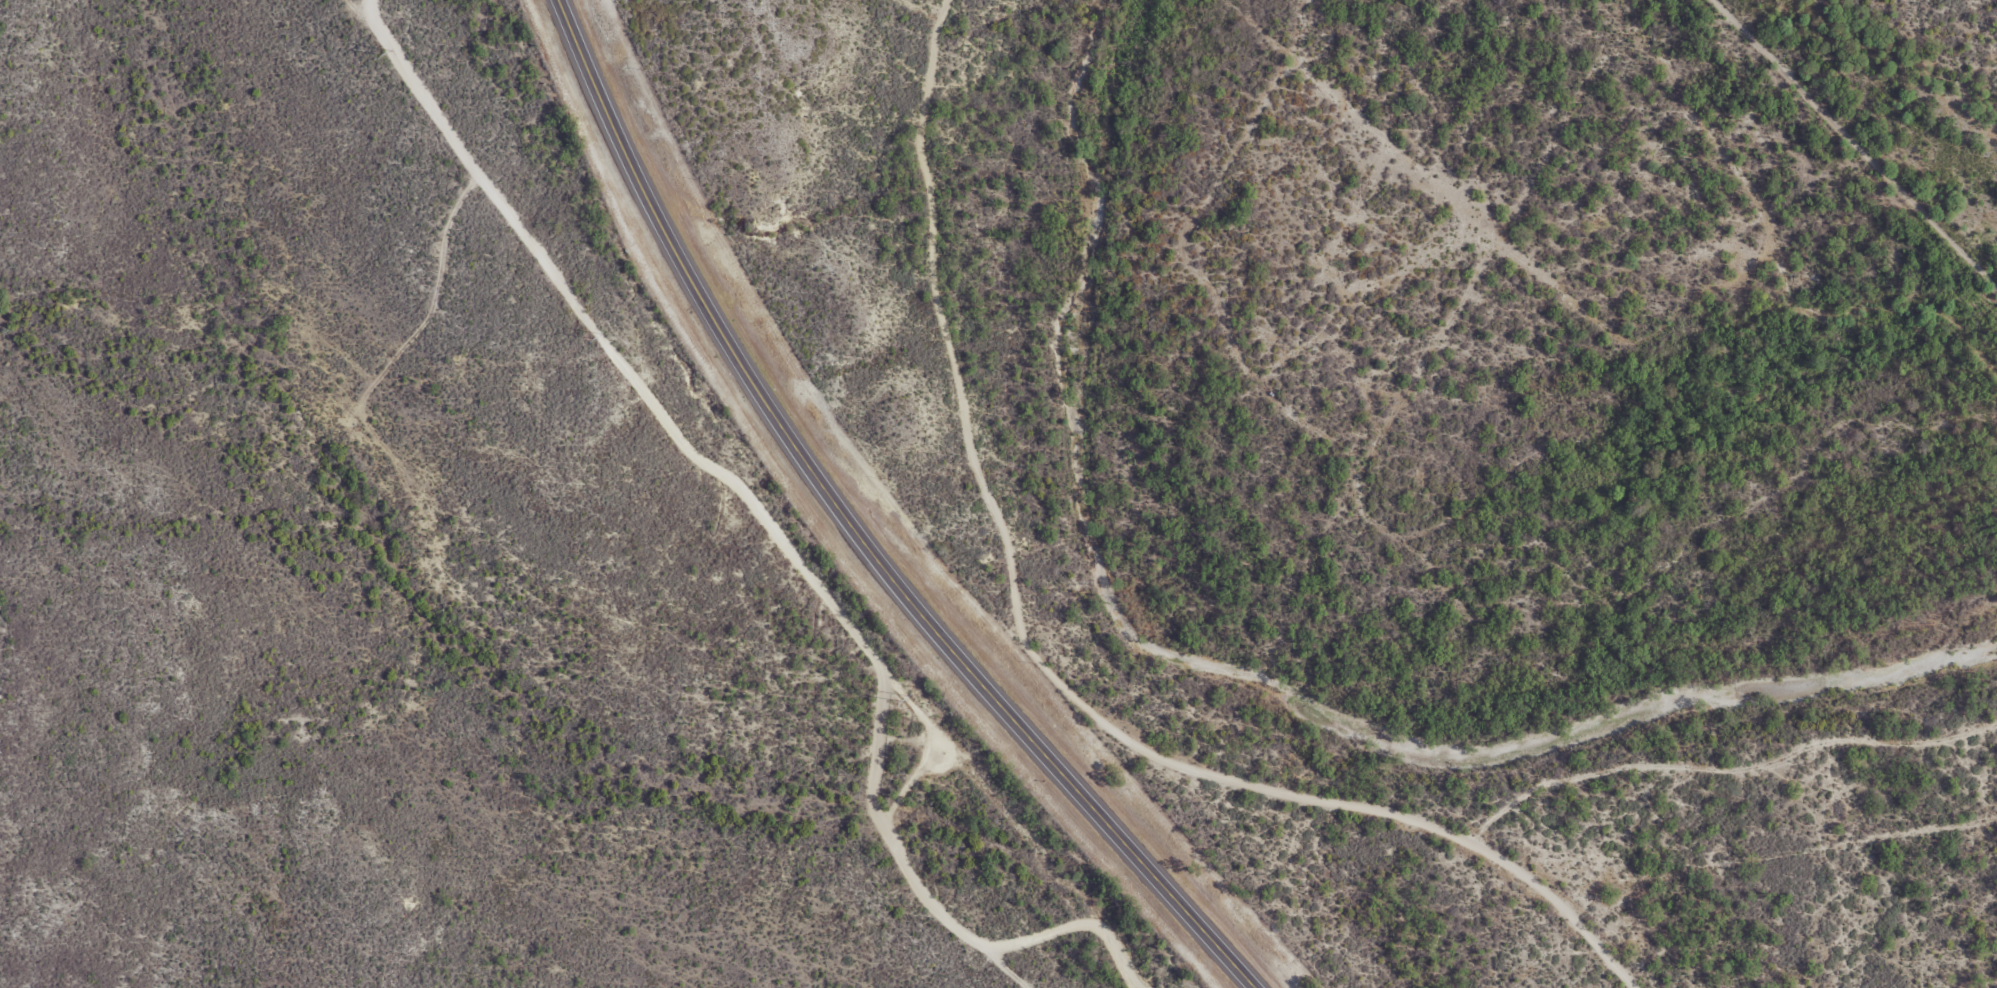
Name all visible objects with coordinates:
power tower: (391, 53)
power tower: (599, 337)
road: (658, 493)
road: (850, 532)
power tower: (907, 700)

